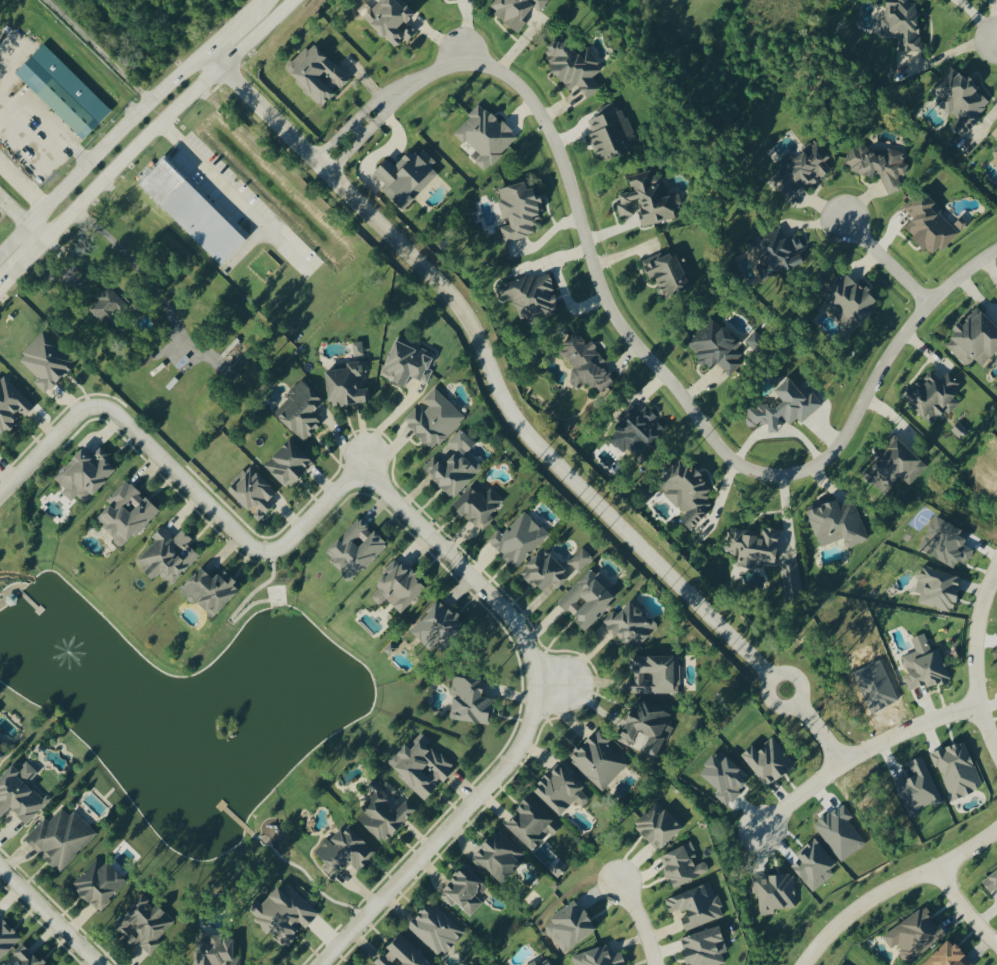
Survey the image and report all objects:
road: (255, 4)
building: (519, 11)
road: (980, 18)
building: (393, 22)
building: (903, 24)
road: (227, 29)
road: (462, 32)
road: (96, 50)
building: (577, 67)
building: (319, 77)
building: (64, 94)
road: (387, 94)
building: (963, 102)
road: (396, 107)
road: (165, 116)
road: (47, 118)
road: (357, 132)
building: (613, 134)
building: (487, 138)
building: (996, 140)
road: (334, 144)
road: (100, 151)
building: (995, 156)
road: (347, 157)
building: (809, 167)
building: (880, 167)
road: (214, 177)
building: (407, 179)
road: (23, 184)
building: (649, 201)
road: (14, 210)
building: (522, 213)
building: (195, 215)
building: (931, 226)
road: (37, 231)
building: (781, 254)
road: (22, 262)
road: (885, 263)
building: (669, 276)
building: (533, 299)
building: (853, 303)
building: (108, 309)
building: (976, 341)
building: (760, 346)
building: (360, 351)
building: (719, 351)
building: (410, 364)
road: (487, 364)
building: (47, 366)
building: (588, 367)
building: (350, 388)
building: (935, 399)
road: (682, 400)
building: (12, 408)
building: (789, 410)
building: (303, 413)
building: (436, 422)
building: (645, 433)
road: (46, 444)
road: (365, 465)
building: (291, 467)
building: (457, 469)
building: (897, 469)
road: (180, 476)
building: (87, 477)
building: (254, 495)
building: (690, 496)
building: (481, 507)
building: (127, 515)
road: (419, 524)
building: (841, 527)
building: (519, 542)
building: (948, 546)
building: (757, 549)
building: (357, 551)
building: (169, 558)
building: (582, 562)
building: (549, 574)
building: (401, 589)
building: (212, 594)
building: (590, 600)
building: (442, 626)
building: (632, 626)
road: (974, 659)
building: (928, 668)
building: (656, 676)
road: (551, 684)
road: (765, 688)
building: (472, 702)
building: (647, 730)
road: (819, 733)
building: (0, 743)
road: (858, 753)
building: (2, 756)
building: (600, 761)
building: (770, 763)
building: (426, 770)
building: (958, 771)
building: (564, 791)
building: (22, 793)
building: (388, 815)
building: (532, 825)
building: (660, 827)
road: (441, 832)
building: (62, 840)
building: (346, 854)
building: (502, 858)
building: (684, 867)
building: (991, 884)
building: (101, 885)
road: (893, 889)
building: (465, 892)
building: (776, 893)
building: (696, 908)
road: (964, 909)
road: (49, 915)
building: (287, 916)
road: (641, 921)
building: (147, 928)
building: (572, 928)
building: (437, 931)
building: (916, 936)
building: (7, 940)
building: (707, 948)
building: (219, 950)
building: (403, 955)
building: (951, 955)
building: (29, 957)
building: (600, 958)
building: (535, 963)
building: (548, 963)

